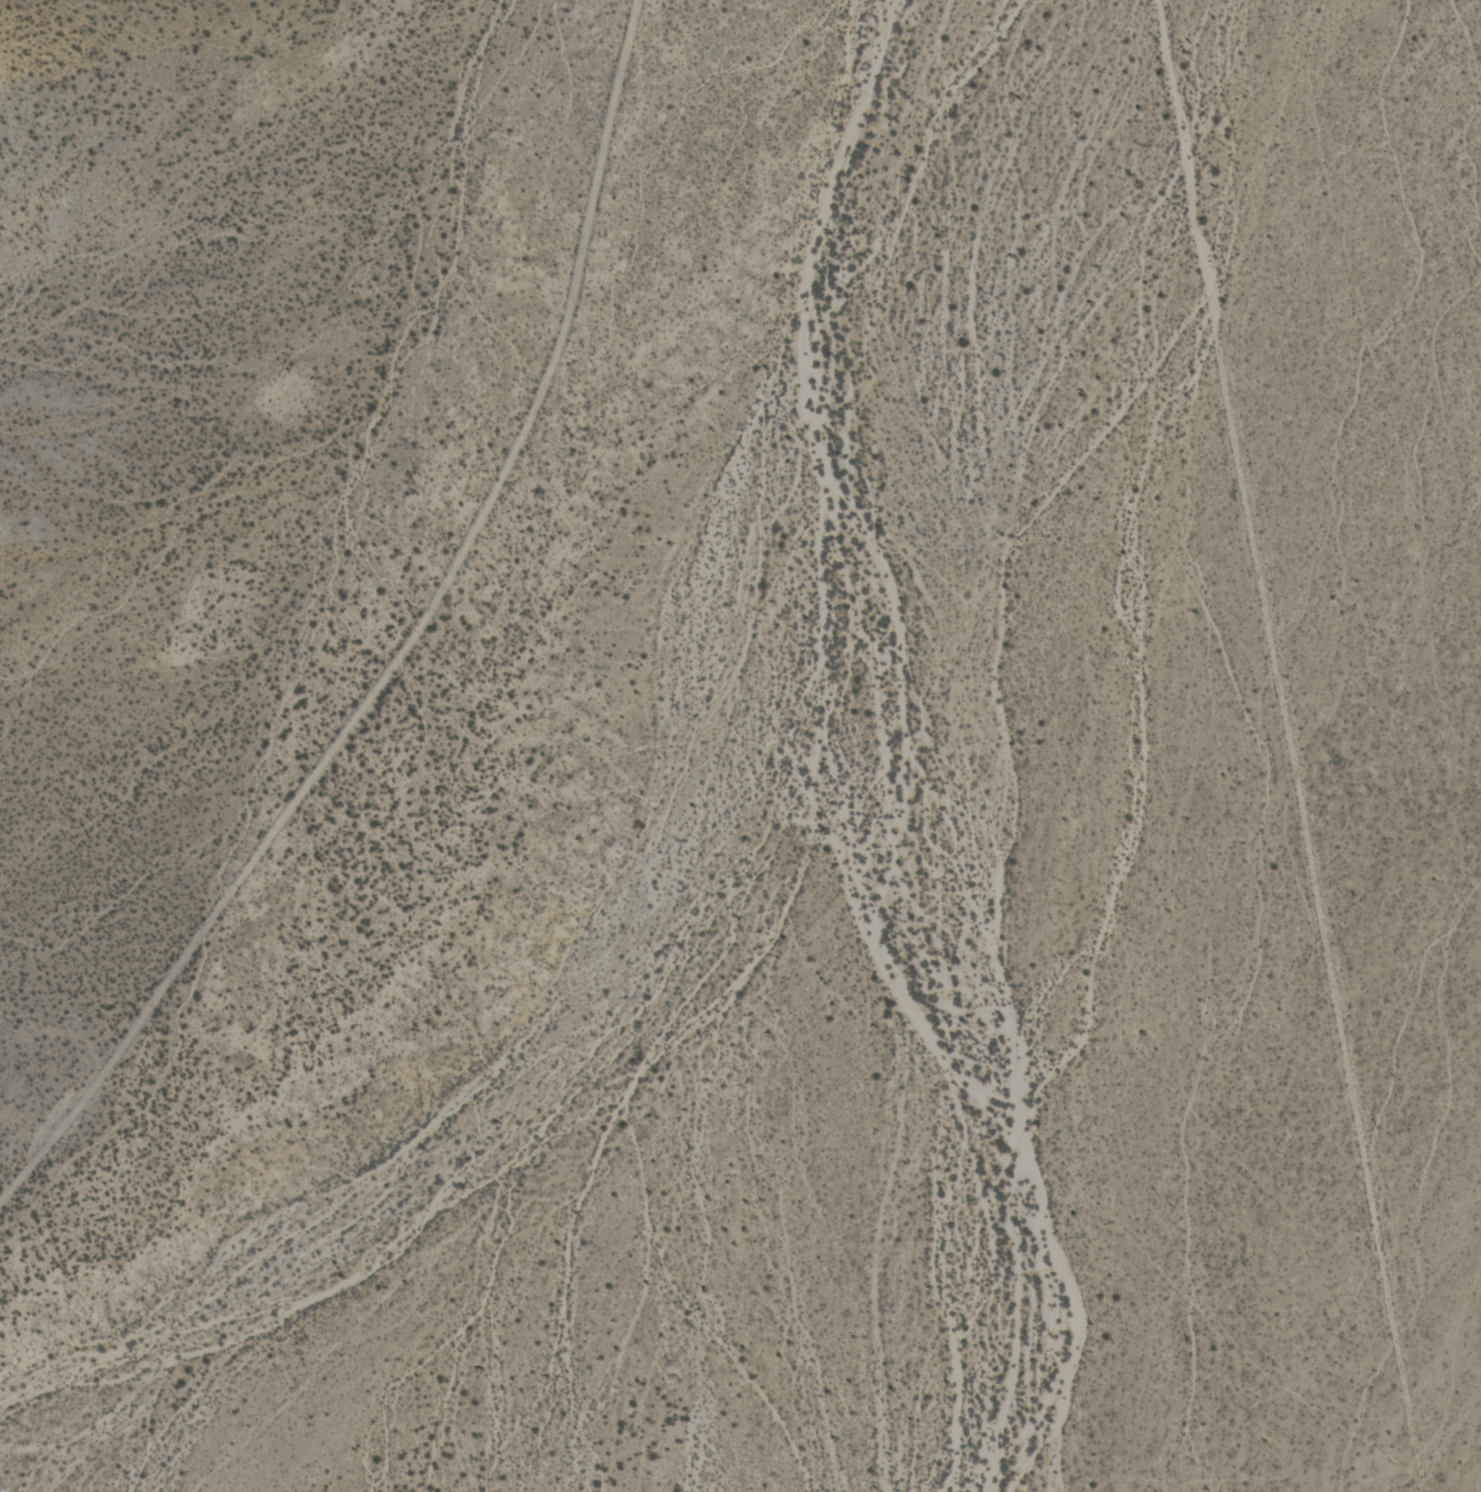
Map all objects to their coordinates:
road: (405, 645)

